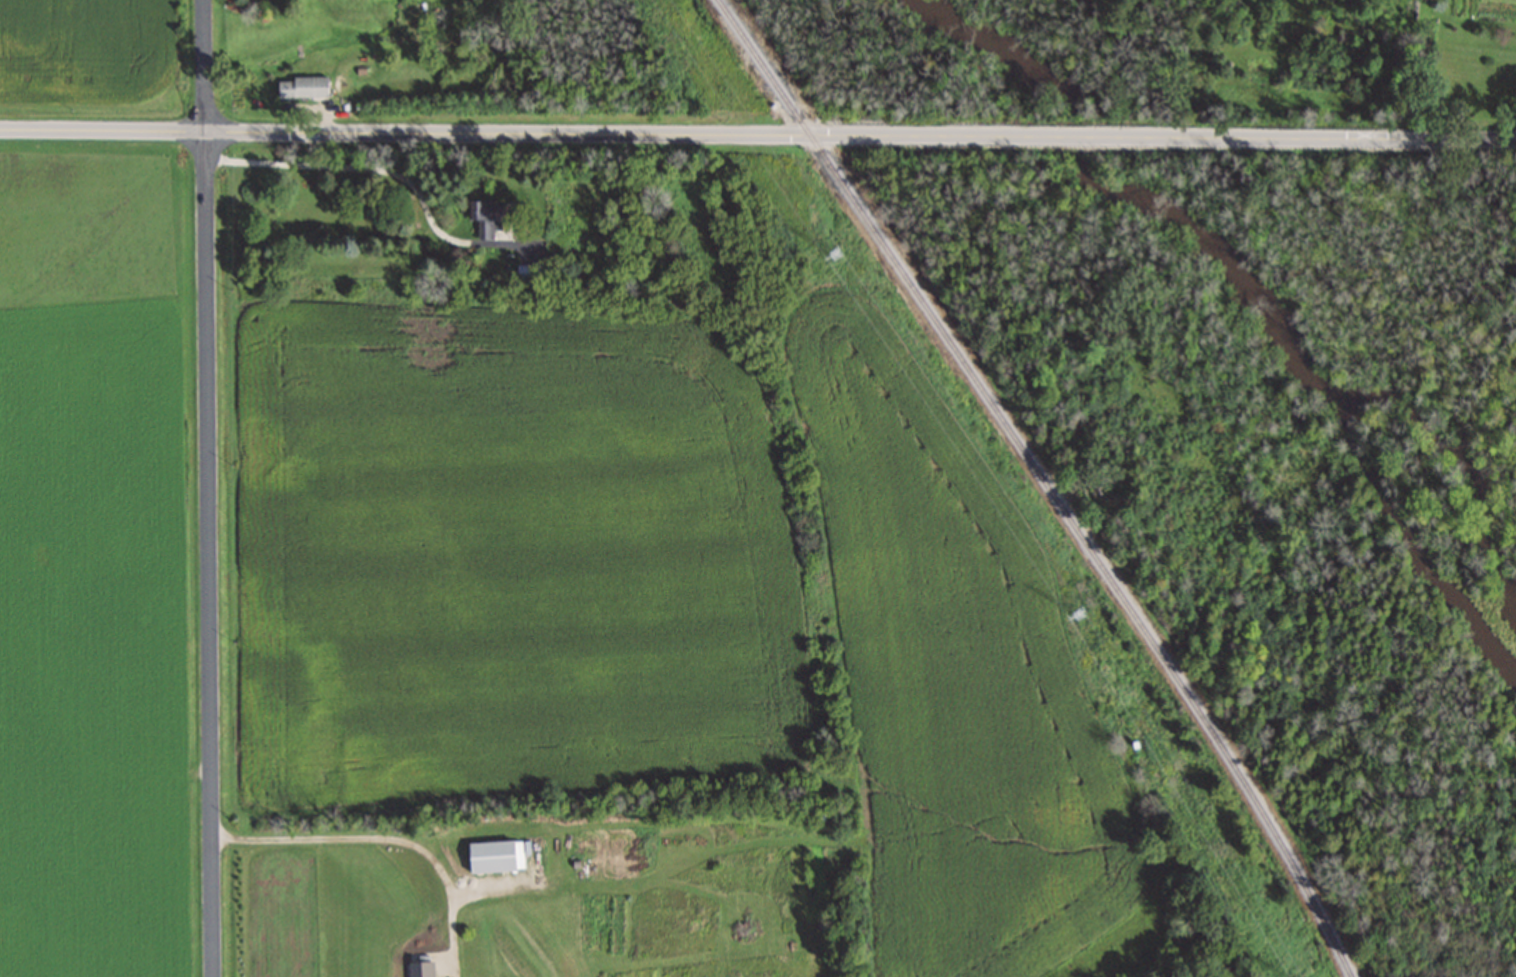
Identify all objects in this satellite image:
building: (301, 86)
road: (757, 135)
building: (483, 216)
building: (528, 272)
river: (1251, 276)
railway: (1046, 482)
road: (210, 488)
river: (1509, 614)
building: (491, 856)

